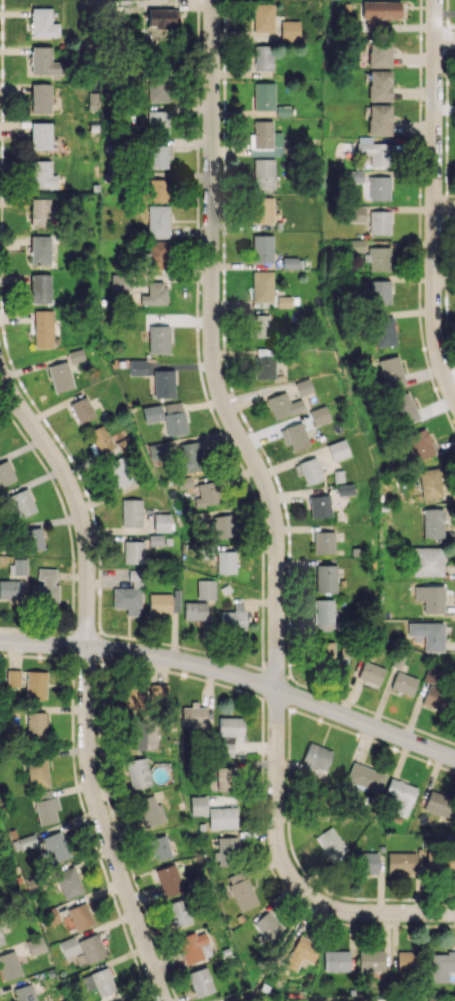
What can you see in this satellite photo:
building: (380, 10)
building: (163, 18)
building: (263, 18)
building: (43, 23)
building: (289, 30)
road: (444, 39)
building: (379, 53)
building: (263, 57)
building: (43, 61)
building: (379, 85)
building: (157, 88)
building: (263, 95)
building: (41, 97)
building: (92, 100)
building: (157, 119)
building: (378, 119)
building: (40, 136)
building: (267, 140)
building: (374, 151)
building: (157, 156)
building: (263, 173)
building: (42, 175)
building: (378, 188)
building: (155, 191)
road: (434, 200)
building: (262, 209)
road: (444, 209)
building: (40, 212)
building: (354, 214)
building: (157, 221)
building: (379, 222)
building: (356, 245)
building: (262, 248)
building: (40, 250)
building: (158, 255)
building: (378, 258)
building: (292, 263)
building: (119, 282)
building: (262, 286)
building: (40, 288)
building: (376, 292)
building: (154, 293)
building: (283, 301)
building: (258, 325)
building: (43, 328)
building: (384, 331)
building: (158, 339)
road: (211, 351)
building: (264, 363)
building: (137, 367)
building: (390, 371)
building: (60, 376)
road: (451, 379)
building: (163, 383)
building: (303, 387)
building: (283, 405)
building: (405, 408)
building: (81, 410)
building: (151, 413)
building: (319, 415)
building: (174, 418)
building: (294, 436)
building: (100, 439)
building: (420, 444)
building: (337, 450)
building: (190, 456)
building: (308, 470)
building: (119, 472)
building: (5, 473)
building: (431, 482)
building: (345, 489)
building: (206, 494)
building: (21, 503)
building: (319, 506)
building: (131, 513)
building: (161, 522)
building: (433, 523)
building: (222, 526)
building: (32, 539)
building: (323, 542)
building: (133, 552)
building: (428, 561)
building: (225, 562)
building: (326, 578)
building: (44, 587)
building: (10, 589)
building: (206, 589)
building: (430, 598)
building: (163, 603)
building: (194, 611)
building: (324, 611)
building: (233, 618)
street lamp: (63, 634)
building: (428, 635)
street lamp: (181, 649)
building: (325, 651)
road: (223, 671)
building: (370, 673)
building: (13, 677)
road: (85, 680)
building: (35, 684)
street lamp: (295, 684)
building: (403, 684)
building: (432, 689)
building: (142, 694)
street lamp: (371, 713)
building: (194, 715)
building: (35, 723)
building: (228, 733)
building: (136, 737)
road: (445, 753)
building: (37, 772)
building: (138, 773)
building: (365, 777)
building: (224, 778)
road: (276, 790)
building: (400, 795)
building: (438, 803)
building: (197, 805)
building: (45, 807)
building: (149, 811)
building: (222, 817)
building: (330, 843)
building: (55, 847)
building: (159, 848)
building: (226, 850)
building: (446, 861)
building: (366, 862)
building: (403, 862)
building: (168, 879)
building: (68, 882)
building: (241, 890)
road: (372, 912)
building: (178, 913)
building: (79, 916)
building: (267, 925)
building: (1, 939)
building: (35, 945)
building: (68, 946)
building: (194, 947)
building: (92, 948)
building: (301, 952)
road: (274, 958)
building: (335, 960)
building: (371, 960)
building: (405, 962)
building: (9, 965)
building: (439, 966)
building: (201, 981)
building: (99, 982)
building: (25, 993)

